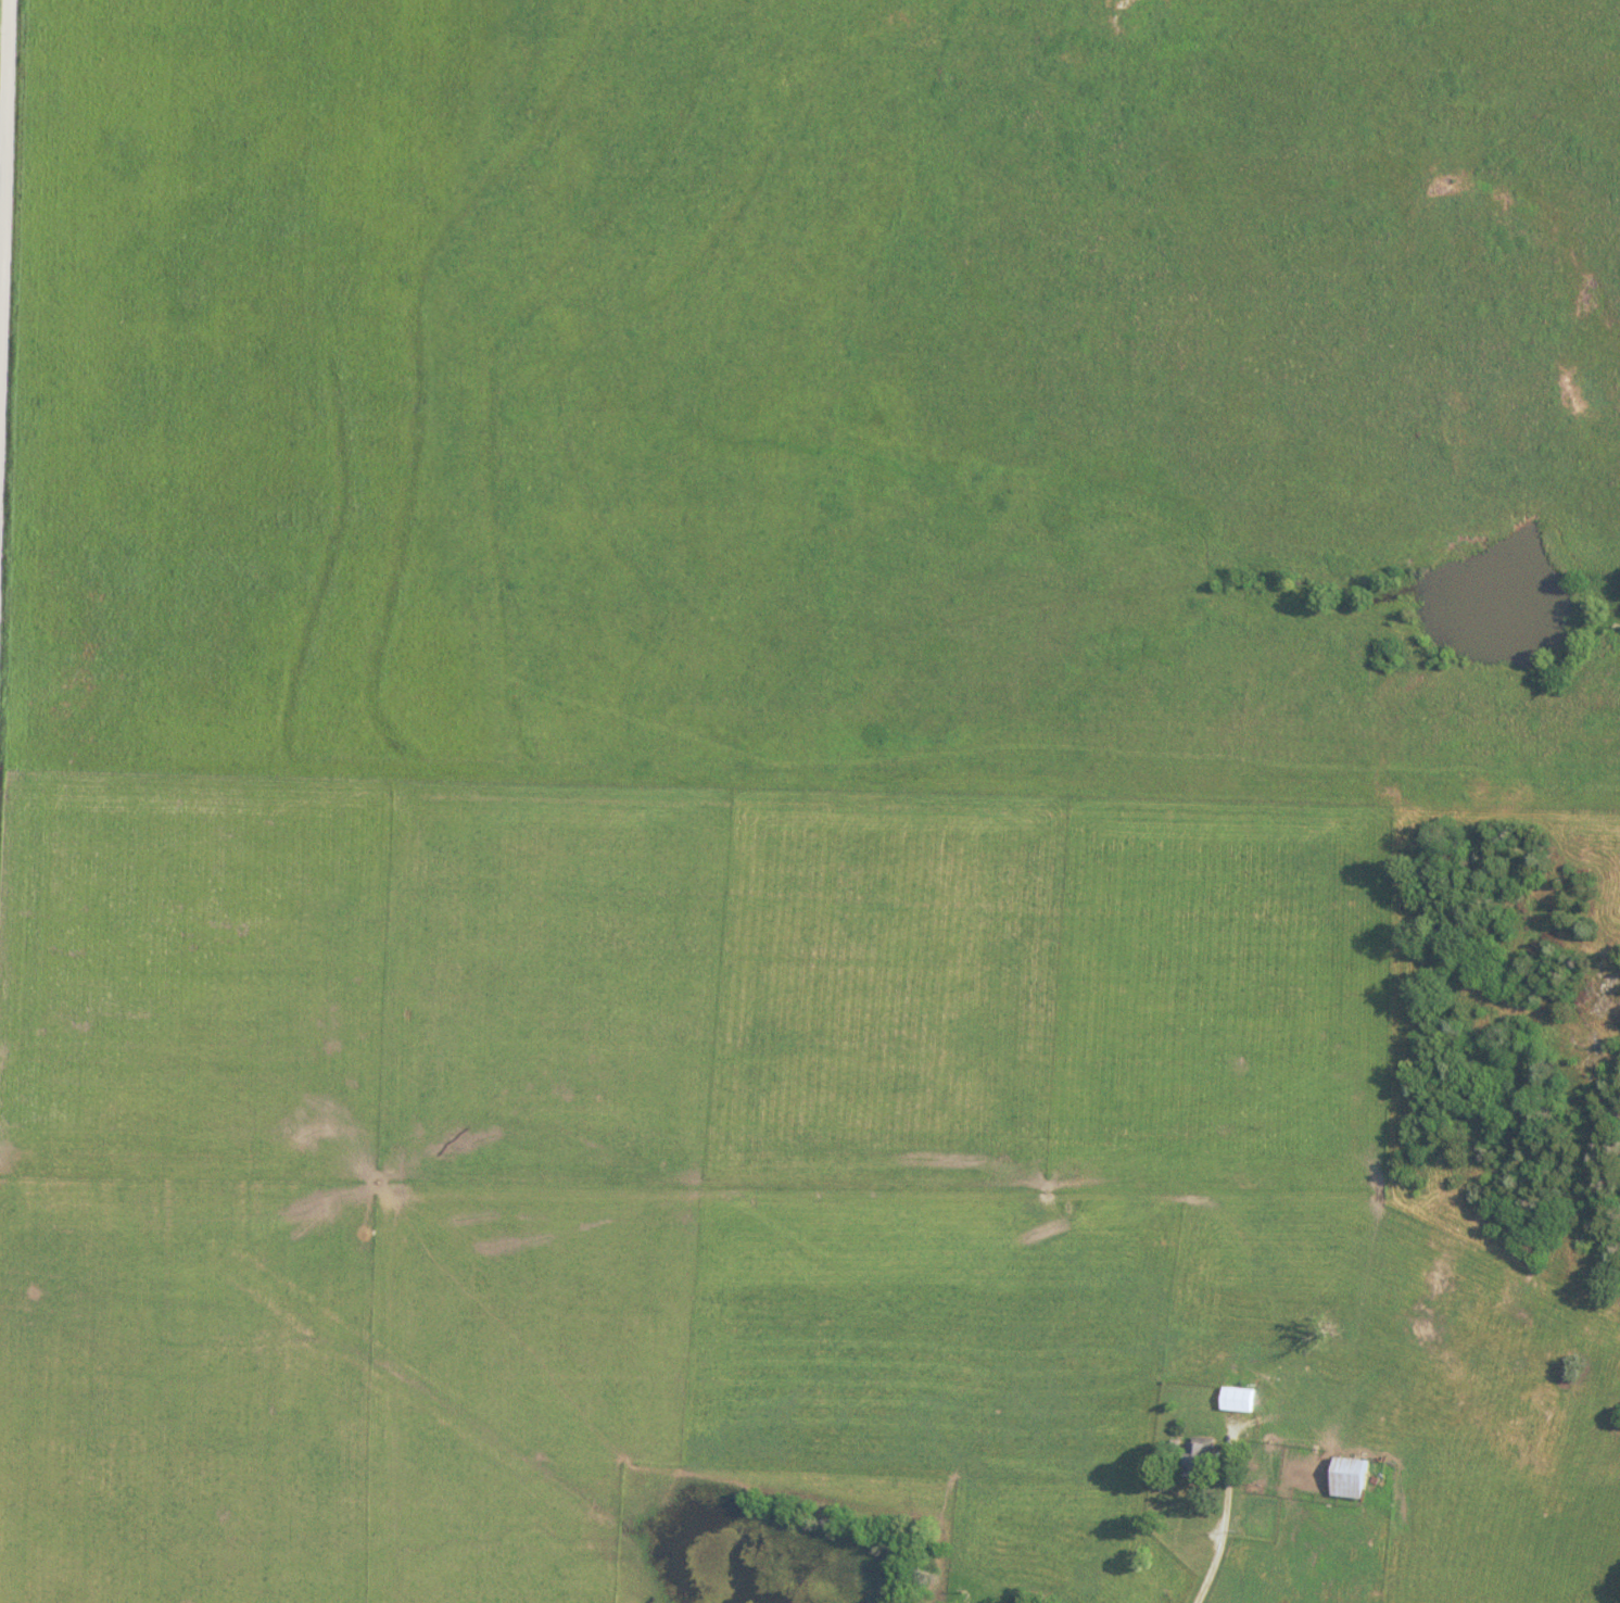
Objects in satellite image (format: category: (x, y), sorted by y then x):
road: (5, 182)
road: (1203, 1250)
building: (1238, 1399)
building: (1198, 1457)
building: (1347, 1477)
road: (1278, 1551)

